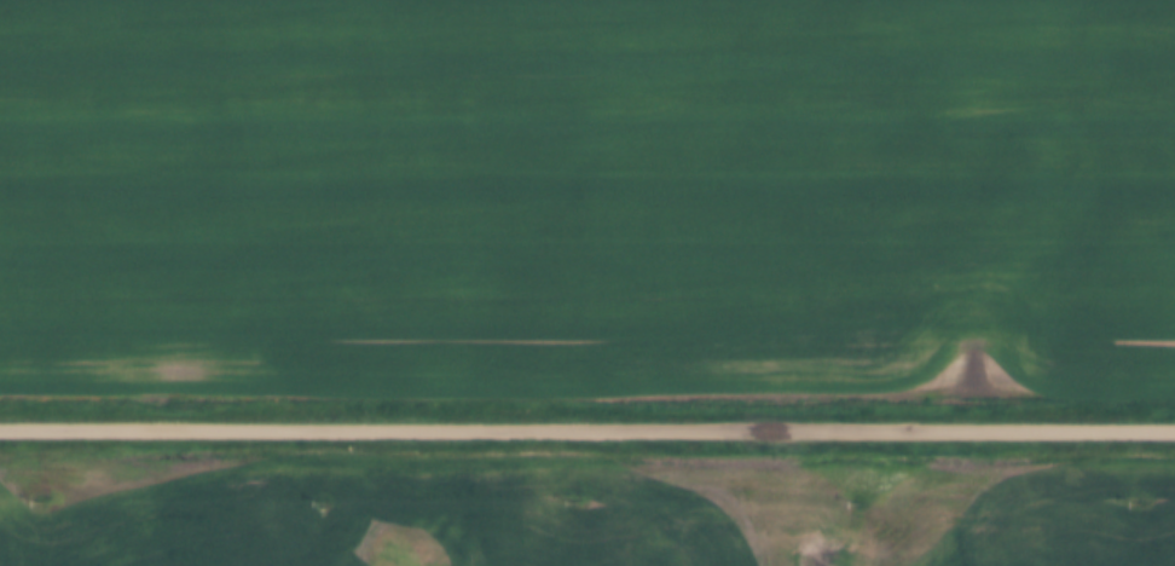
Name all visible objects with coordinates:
road: (587, 429)

